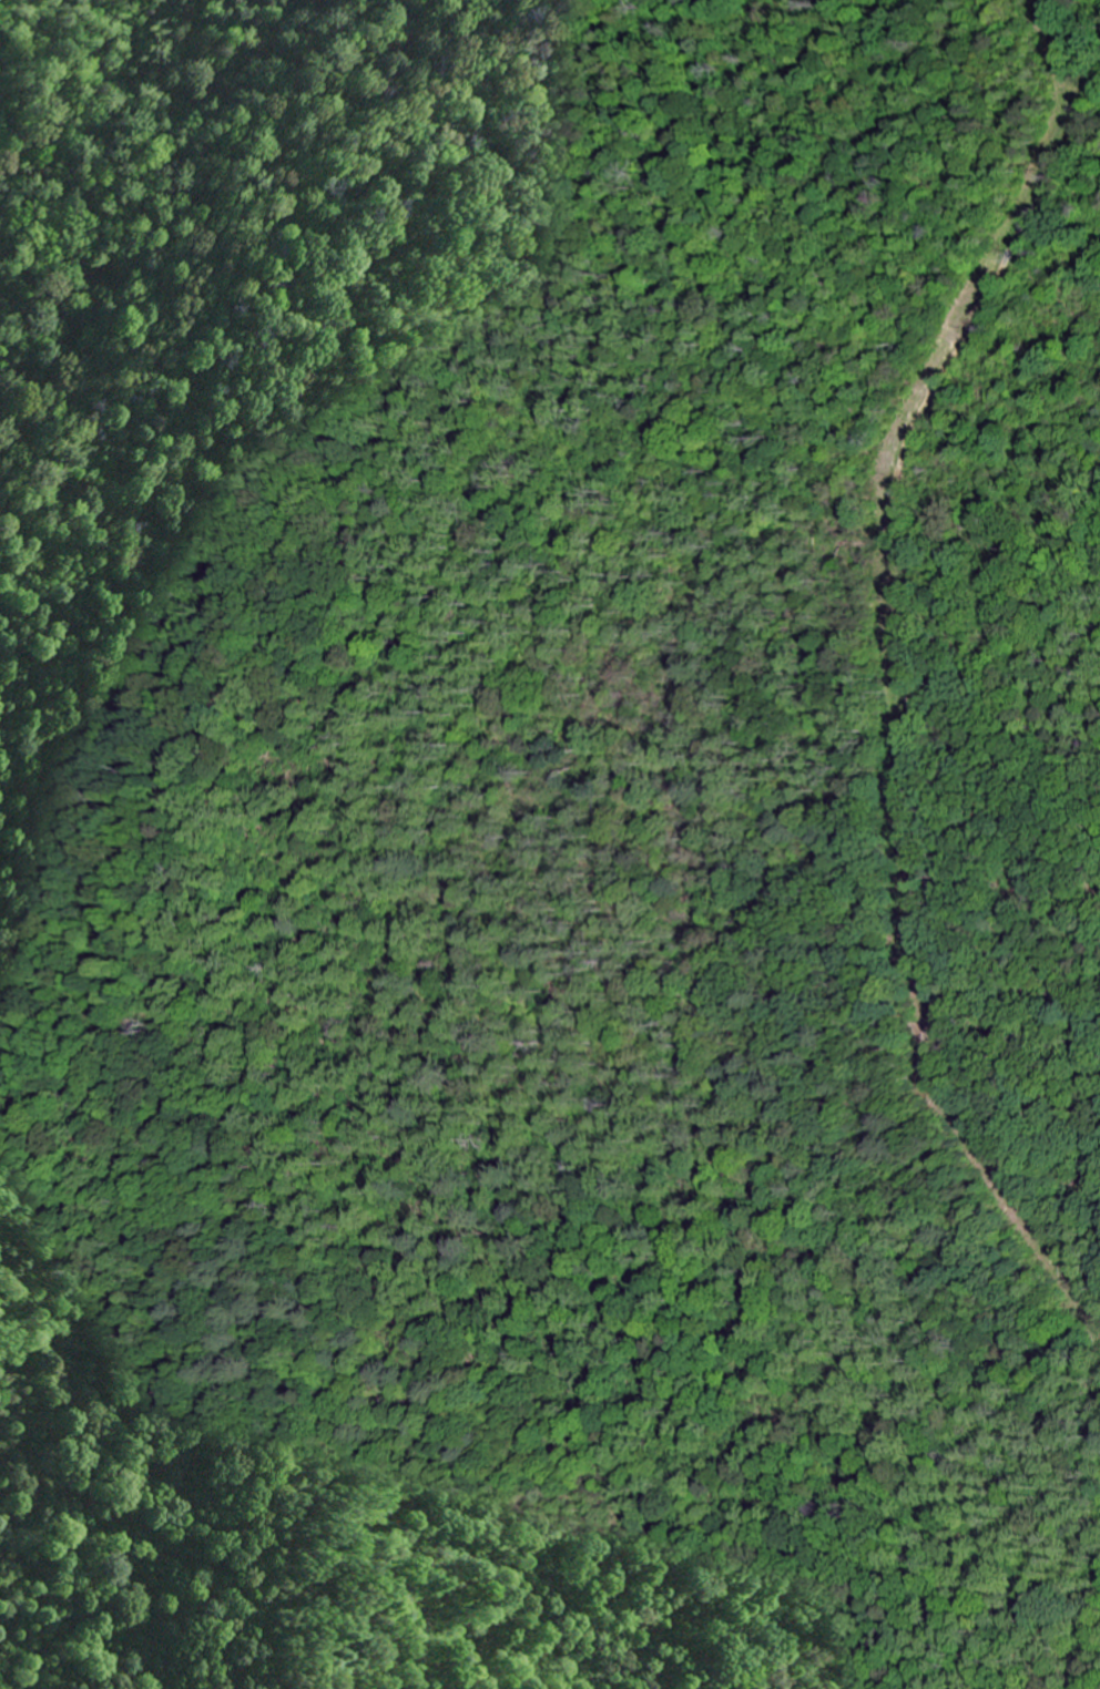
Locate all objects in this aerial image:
road: (49, 45)

